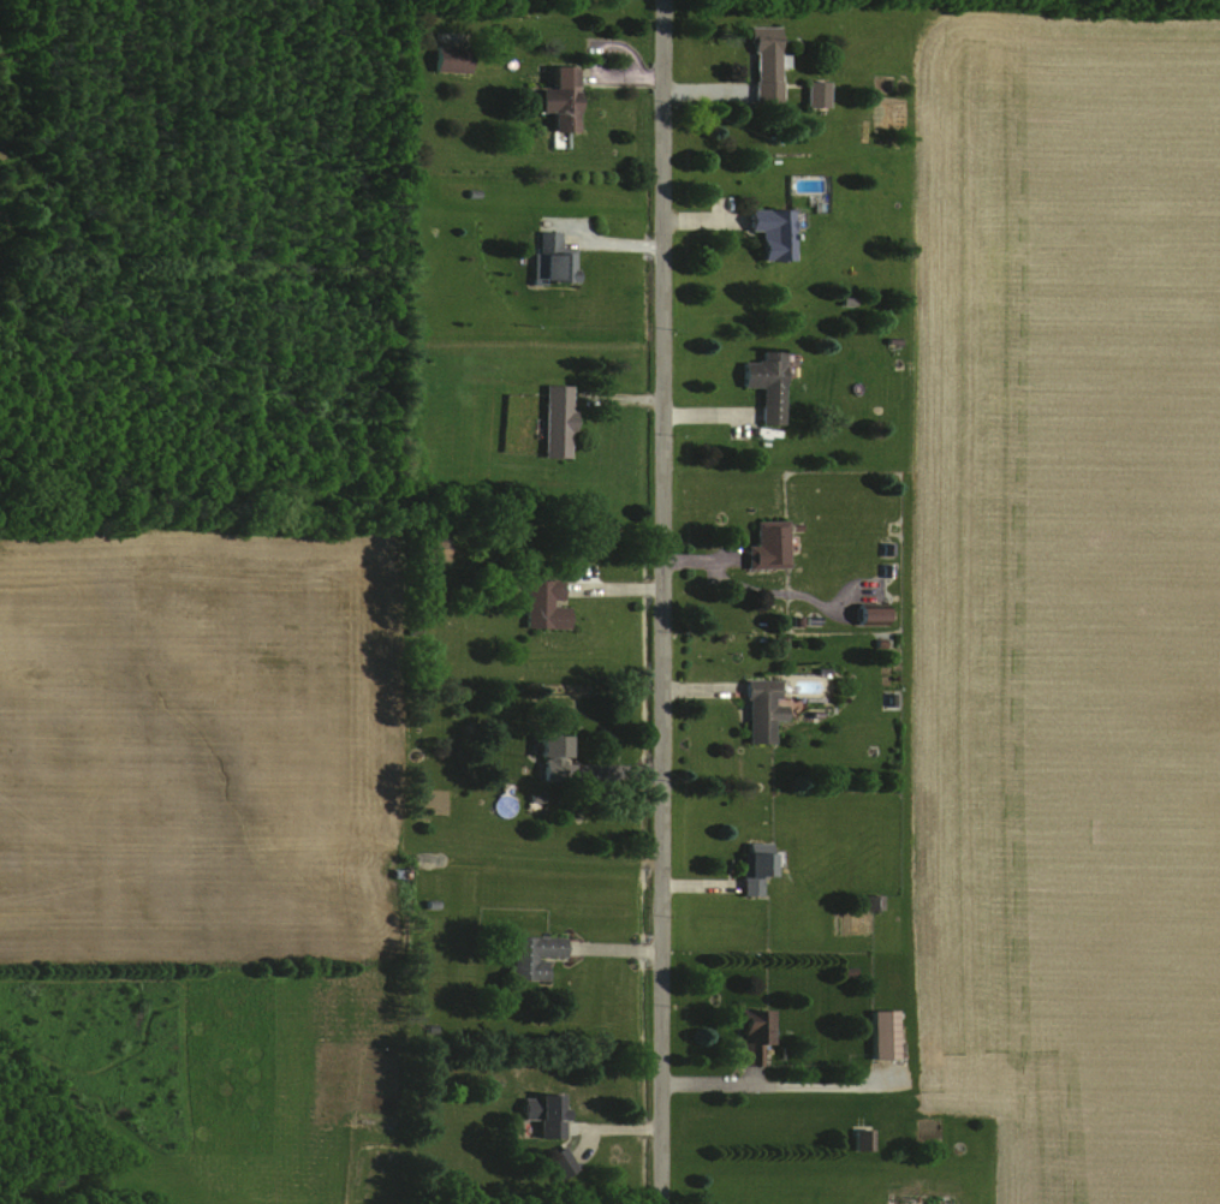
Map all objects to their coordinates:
building: (450, 59)
building: (766, 65)
building: (815, 94)
building: (559, 100)
building: (772, 234)
building: (551, 262)
building: (766, 383)
building: (557, 421)
building: (767, 546)
building: (434, 548)
road: (661, 602)
building: (543, 604)
building: (870, 613)
building: (761, 710)
building: (552, 755)
building: (754, 870)
building: (532, 955)
building: (752, 1035)
building: (882, 1035)
road: (774, 1086)
building: (543, 1114)
building: (862, 1139)

